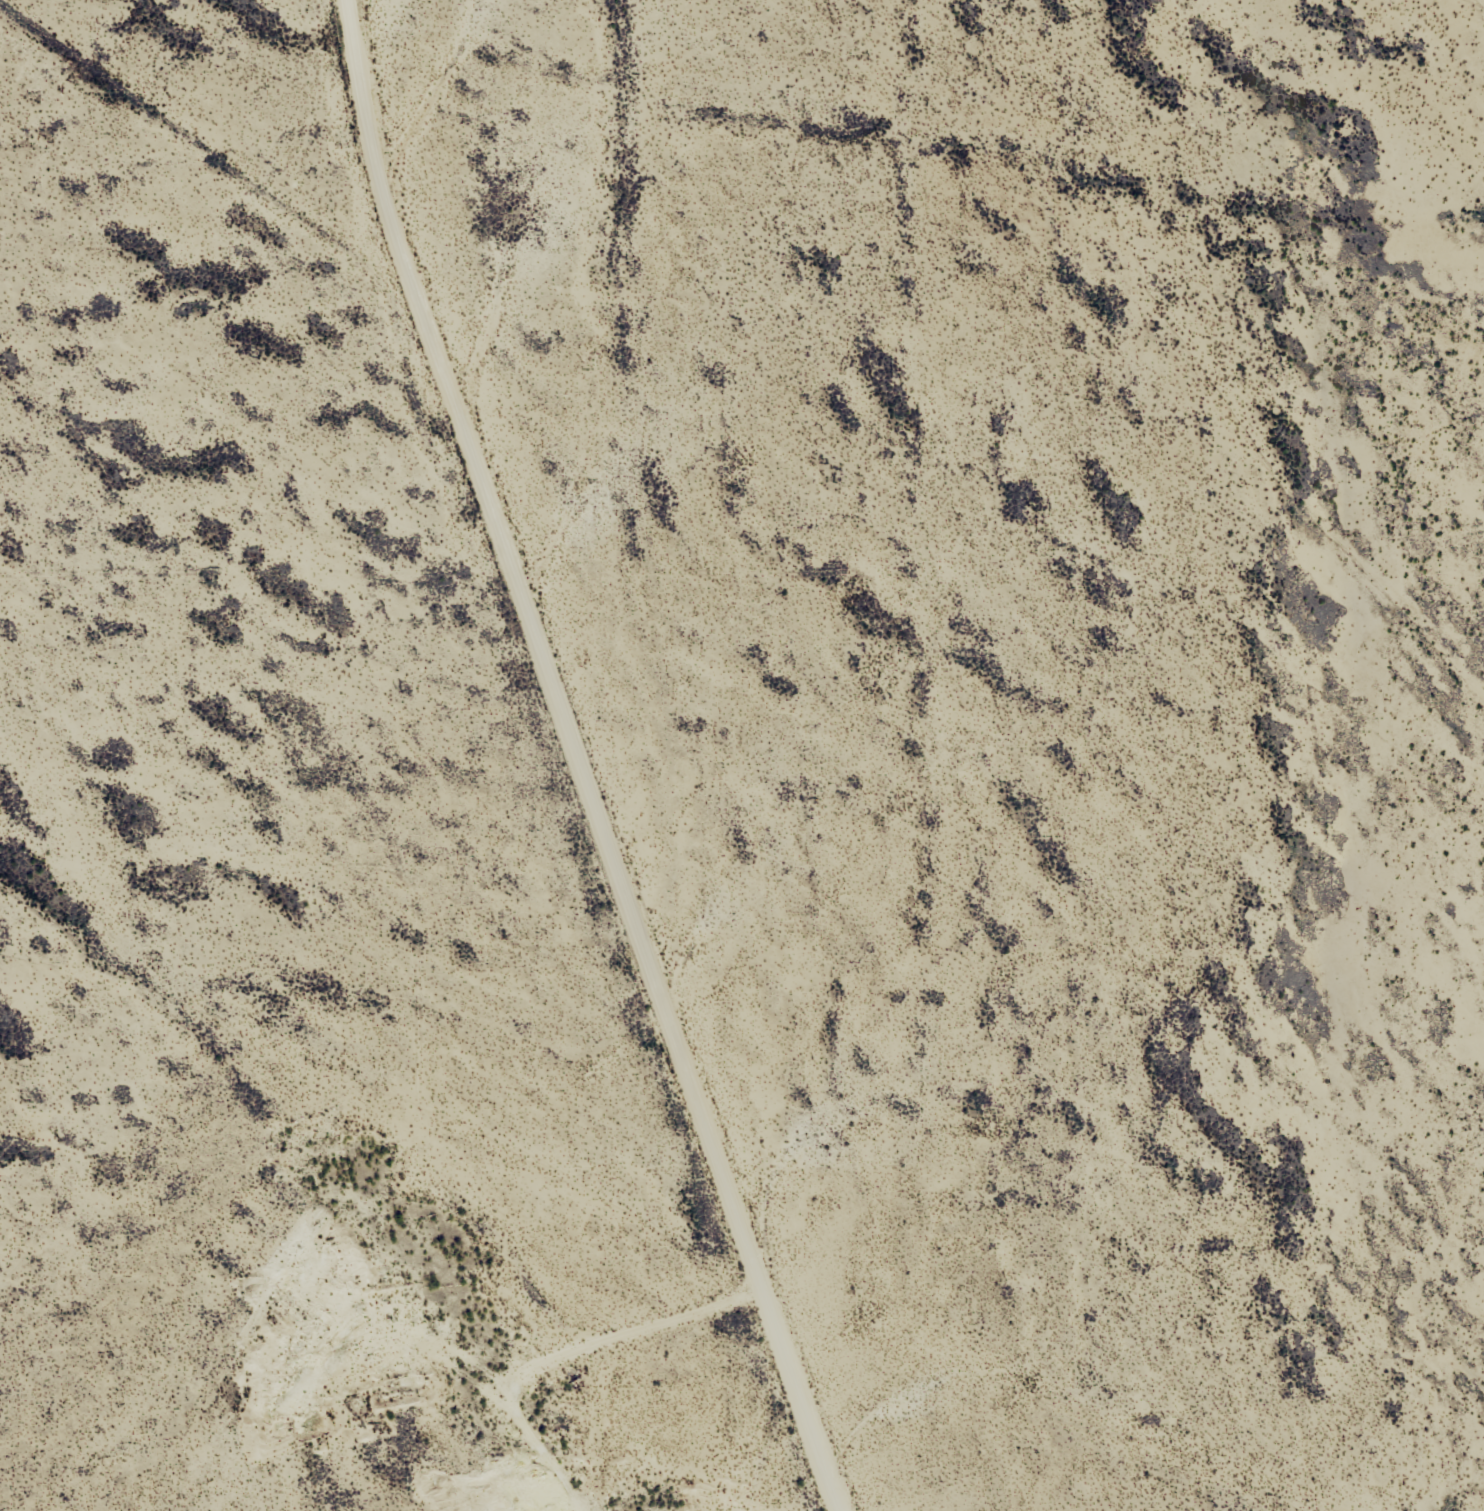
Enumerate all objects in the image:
road: (337, 256)
road: (617, 758)

